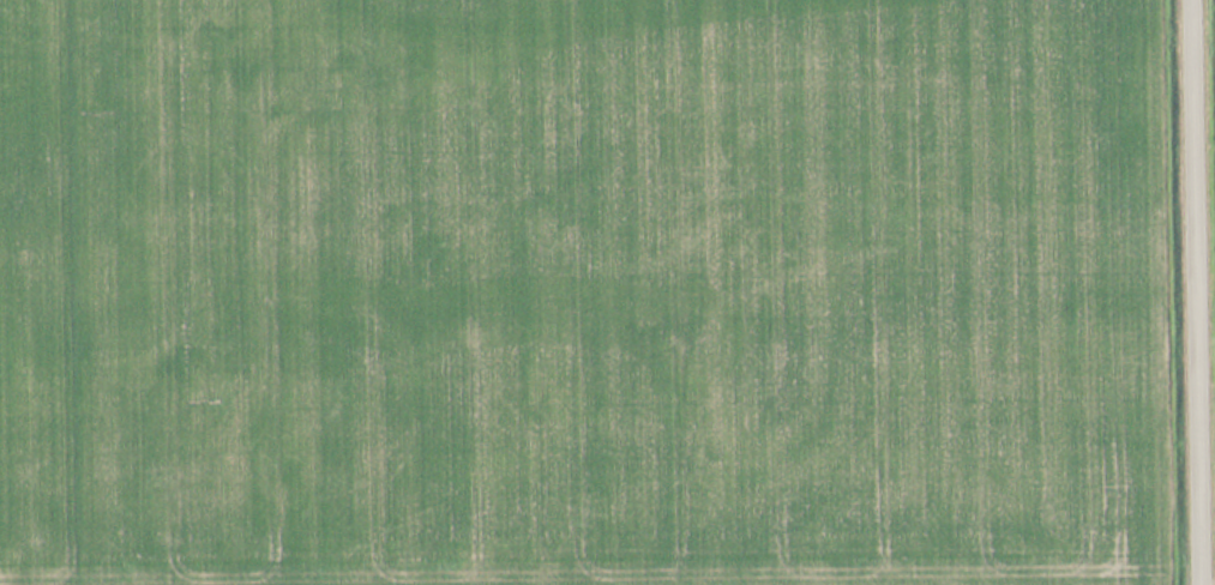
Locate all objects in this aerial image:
road: (1201, 292)

